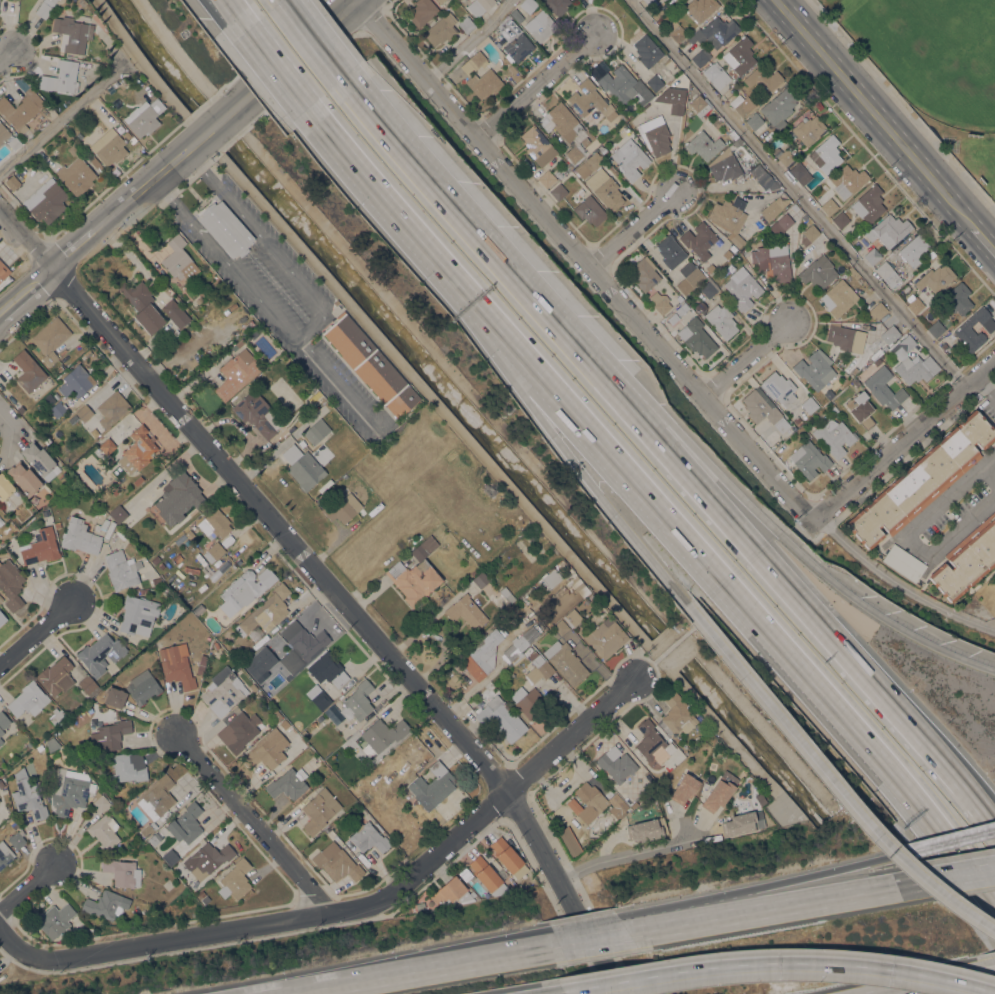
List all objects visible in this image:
road: (356, 0)
road: (285, 1)
road: (285, 1)
building: (440, 1)
building: (647, 1)
building: (81, 2)
building: (528, 5)
building: (557, 5)
building: (479, 6)
building: (44, 8)
building: (700, 8)
building: (421, 12)
road: (236, 15)
road: (239, 15)
building: (515, 16)
building: (466, 24)
building: (540, 25)
building: (441, 29)
building: (676, 30)
building: (715, 32)
building: (73, 33)
road: (315, 40)
road: (467, 42)
building: (519, 47)
building: (647, 50)
road: (300, 51)
road: (7, 56)
building: (739, 56)
building: (700, 57)
building: (474, 62)
building: (512, 69)
road: (281, 70)
building: (716, 75)
building: (61, 77)
building: (763, 79)
building: (484, 83)
building: (654, 83)
building: (508, 84)
road: (539, 84)
building: (621, 84)
building: (645, 98)
building: (672, 99)
building: (590, 100)
building: (700, 105)
building: (740, 105)
building: (779, 106)
building: (21, 109)
road: (873, 112)
road: (62, 117)
building: (144, 117)
road: (222, 120)
building: (755, 121)
building: (561, 122)
building: (76, 129)
building: (807, 130)
building: (3, 132)
building: (733, 135)
building: (655, 136)
building: (588, 142)
building: (737, 142)
building: (13, 143)
building: (703, 145)
building: (537, 146)
building: (109, 147)
building: (72, 149)
building: (575, 151)
building: (825, 154)
building: (783, 155)
building: (630, 158)
building: (95, 163)
building: (589, 164)
building: (724, 166)
building: (566, 168)
building: (800, 173)
building: (559, 174)
building: (76, 175)
building: (547, 178)
building: (764, 178)
building: (848, 180)
road: (373, 181)
building: (12, 182)
road: (148, 183)
building: (604, 189)
building: (558, 192)
road: (797, 194)
building: (46, 202)
building: (869, 204)
building: (829, 206)
building: (774, 207)
building: (589, 210)
building: (729, 218)
building: (840, 220)
building: (782, 223)
road: (634, 228)
building: (226, 229)
building: (888, 230)
building: (808, 234)
road: (983, 238)
building: (699, 241)
road: (75, 247)
building: (913, 250)
building: (670, 251)
building: (872, 256)
building: (179, 259)
building: (773, 261)
road: (583, 264)
building: (710, 268)
building: (3, 271)
road: (450, 271)
building: (818, 272)
building: (887, 273)
building: (644, 274)
building: (689, 277)
building: (935, 278)
road: (448, 281)
building: (163, 285)
building: (742, 287)
road: (26, 289)
building: (708, 289)
building: (838, 298)
building: (958, 298)
building: (660, 303)
building: (142, 305)
building: (701, 305)
building: (915, 305)
building: (681, 308)
building: (878, 310)
building: (175, 313)
building: (672, 317)
building: (721, 320)
road: (314, 328)
building: (935, 328)
building: (972, 330)
building: (175, 333)
building: (889, 334)
road: (574, 337)
building: (698, 337)
building: (846, 337)
building: (50, 338)
building: (349, 340)
building: (240, 342)
building: (943, 345)
building: (881, 350)
road: (745, 357)
building: (913, 362)
building: (877, 363)
building: (815, 369)
building: (28, 371)
building: (236, 373)
building: (380, 376)
building: (75, 381)
building: (856, 382)
road: (983, 384)
road: (339, 387)
building: (883, 387)
building: (779, 388)
building: (828, 393)
road: (991, 393)
building: (402, 401)
building: (809, 405)
building: (112, 408)
building: (861, 408)
building: (57, 409)
building: (763, 409)
building: (84, 412)
building: (257, 414)
building: (797, 421)
road: (6, 430)
building: (316, 431)
building: (834, 436)
building: (354, 439)
road: (904, 444)
building: (107, 446)
building: (138, 450)
road: (669, 451)
road: (573, 458)
building: (809, 459)
building: (40, 460)
road: (988, 461)
building: (303, 466)
road: (988, 475)
road: (626, 476)
building: (24, 478)
building: (921, 480)
building: (5, 487)
building: (490, 489)
building: (178, 497)
building: (344, 508)
building: (118, 514)
building: (214, 524)
building: (193, 527)
road: (805, 532)
building: (189, 534)
building: (79, 536)
road: (783, 537)
road: (908, 542)
building: (40, 547)
building: (213, 552)
building: (178, 559)
building: (155, 560)
building: (966, 560)
building: (904, 562)
building: (121, 569)
building: (474, 573)
building: (416, 575)
building: (481, 580)
building: (549, 580)
building: (156, 581)
building: (10, 584)
road: (901, 585)
building: (246, 587)
road: (328, 588)
building: (576, 590)
building: (507, 595)
building: (565, 595)
building: (1, 598)
building: (198, 608)
building: (267, 610)
building: (466, 611)
building: (138, 614)
building: (2, 618)
building: (572, 618)
building: (561, 627)
building: (501, 630)
building: (254, 633)
building: (227, 634)
road: (37, 635)
building: (606, 636)
building: (521, 642)
building: (216, 644)
building: (300, 645)
road: (668, 651)
building: (101, 653)
building: (482, 655)
building: (521, 656)
building: (565, 662)
building: (537, 665)
building: (178, 666)
building: (328, 669)
building: (57, 675)
building: (88, 685)
building: (142, 688)
building: (223, 691)
building: (318, 696)
building: (28, 699)
building: (112, 699)
building: (528, 702)
building: (351, 705)
building: (677, 714)
building: (276, 715)
building: (57, 717)
building: (501, 719)
building: (3, 722)
building: (284, 726)
building: (239, 731)
building: (111, 734)
road: (849, 735)
building: (382, 736)
building: (1, 741)
building: (652, 743)
building: (52, 744)
building: (40, 747)
building: (268, 751)
building: (616, 764)
building: (128, 767)
road: (831, 778)
building: (288, 783)
building: (1, 784)
building: (433, 786)
building: (684, 788)
building: (720, 791)
building: (27, 795)
building: (70, 795)
building: (156, 797)
building: (591, 798)
building: (0, 801)
building: (100, 803)
road: (495, 808)
building: (618, 809)
building: (319, 810)
building: (186, 823)
road: (250, 823)
building: (741, 824)
building: (147, 829)
building: (644, 829)
building: (104, 832)
building: (367, 836)
building: (154, 838)
building: (16, 840)
road: (954, 841)
building: (5, 854)
road: (953, 854)
road: (624, 855)
building: (170, 857)
building: (211, 857)
building: (508, 857)
building: (336, 862)
building: (121, 871)
building: (489, 876)
road: (950, 877)
building: (235, 880)
road: (810, 880)
road: (29, 886)
building: (452, 891)
building: (106, 904)
road: (768, 908)
building: (56, 919)
road: (668, 920)
road: (596, 938)
road: (157, 942)
road: (780, 963)
road: (424, 969)
road: (943, 982)
road: (558, 993)

